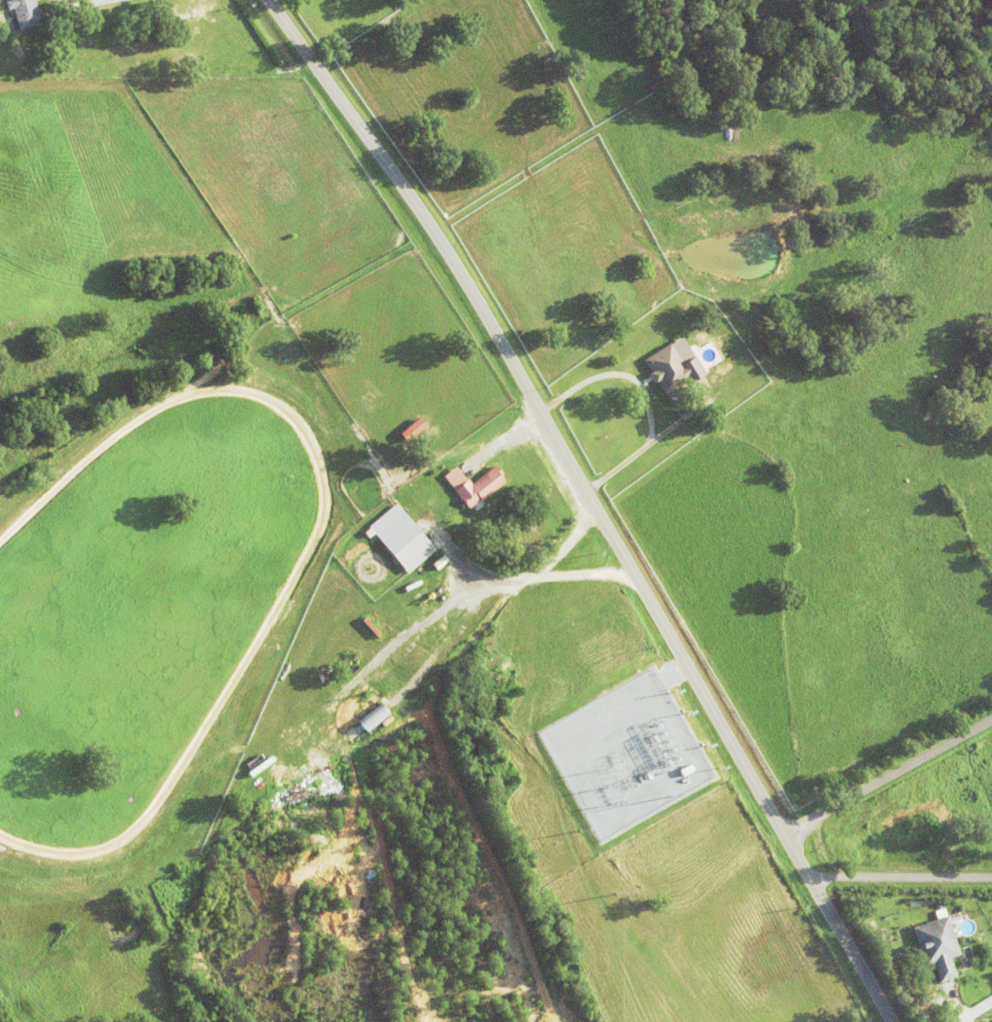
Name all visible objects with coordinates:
road: (80, 6)
building: (24, 12)
building: (674, 367)
building: (368, 395)
building: (407, 421)
building: (424, 435)
building: (408, 436)
building: (474, 483)
road: (592, 502)
building: (401, 536)
building: (371, 626)
building: (495, 673)
building: (370, 716)
road: (888, 777)
road: (900, 875)
building: (904, 938)
building: (937, 944)
building: (991, 1021)

